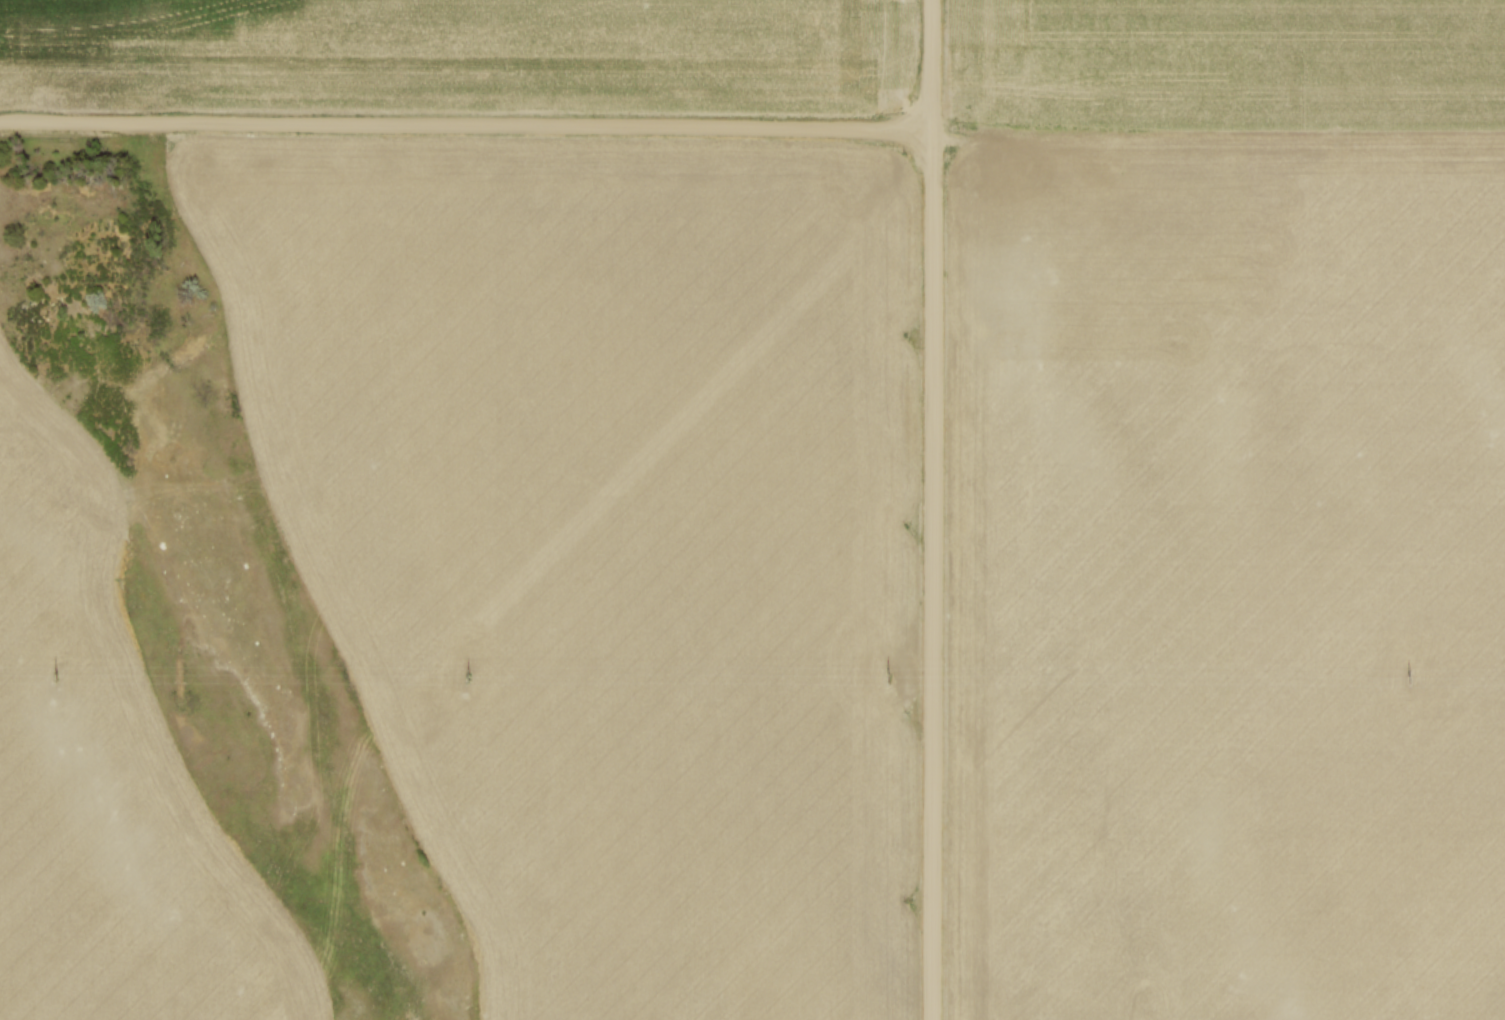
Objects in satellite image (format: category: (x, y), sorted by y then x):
crop: (462, 55)
road: (467, 127)
road: (936, 509)
crop: (1232, 510)
crop: (609, 538)
power tower: (53, 678)
power tower: (892, 678)
power tower: (1413, 680)
crop: (111, 779)
power tower: (595, 992)

